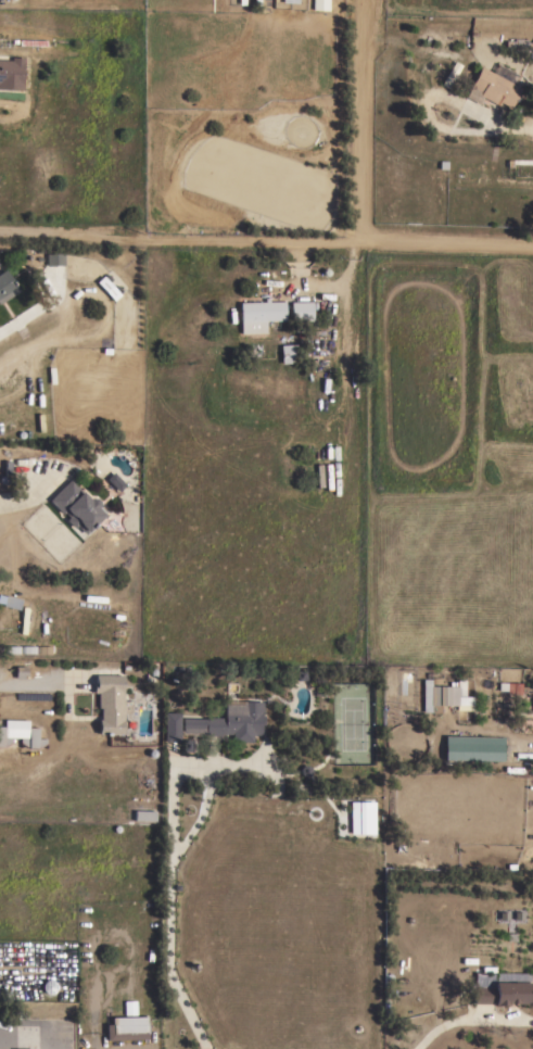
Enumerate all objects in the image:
building: (318, 5)
building: (31, 42)
building: (517, 46)
building: (531, 53)
building: (532, 69)
building: (11, 73)
building: (449, 74)
building: (493, 86)
road: (363, 121)
road: (511, 126)
road: (180, 242)
road: (447, 243)
building: (53, 260)
building: (5, 287)
building: (106, 287)
building: (301, 311)
building: (258, 315)
building: (287, 354)
building: (117, 483)
road: (17, 495)
building: (76, 506)
building: (10, 602)
building: (503, 674)
road: (38, 679)
building: (512, 687)
building: (442, 696)
building: (109, 704)
building: (236, 720)
building: (170, 726)
building: (15, 729)
building: (472, 747)
road: (192, 764)
building: (507, 778)
building: (144, 817)
building: (360, 820)
road: (168, 957)
building: (502, 993)
building: (128, 1008)
building: (126, 1028)
road: (34, 1033)
road: (0, 1040)

